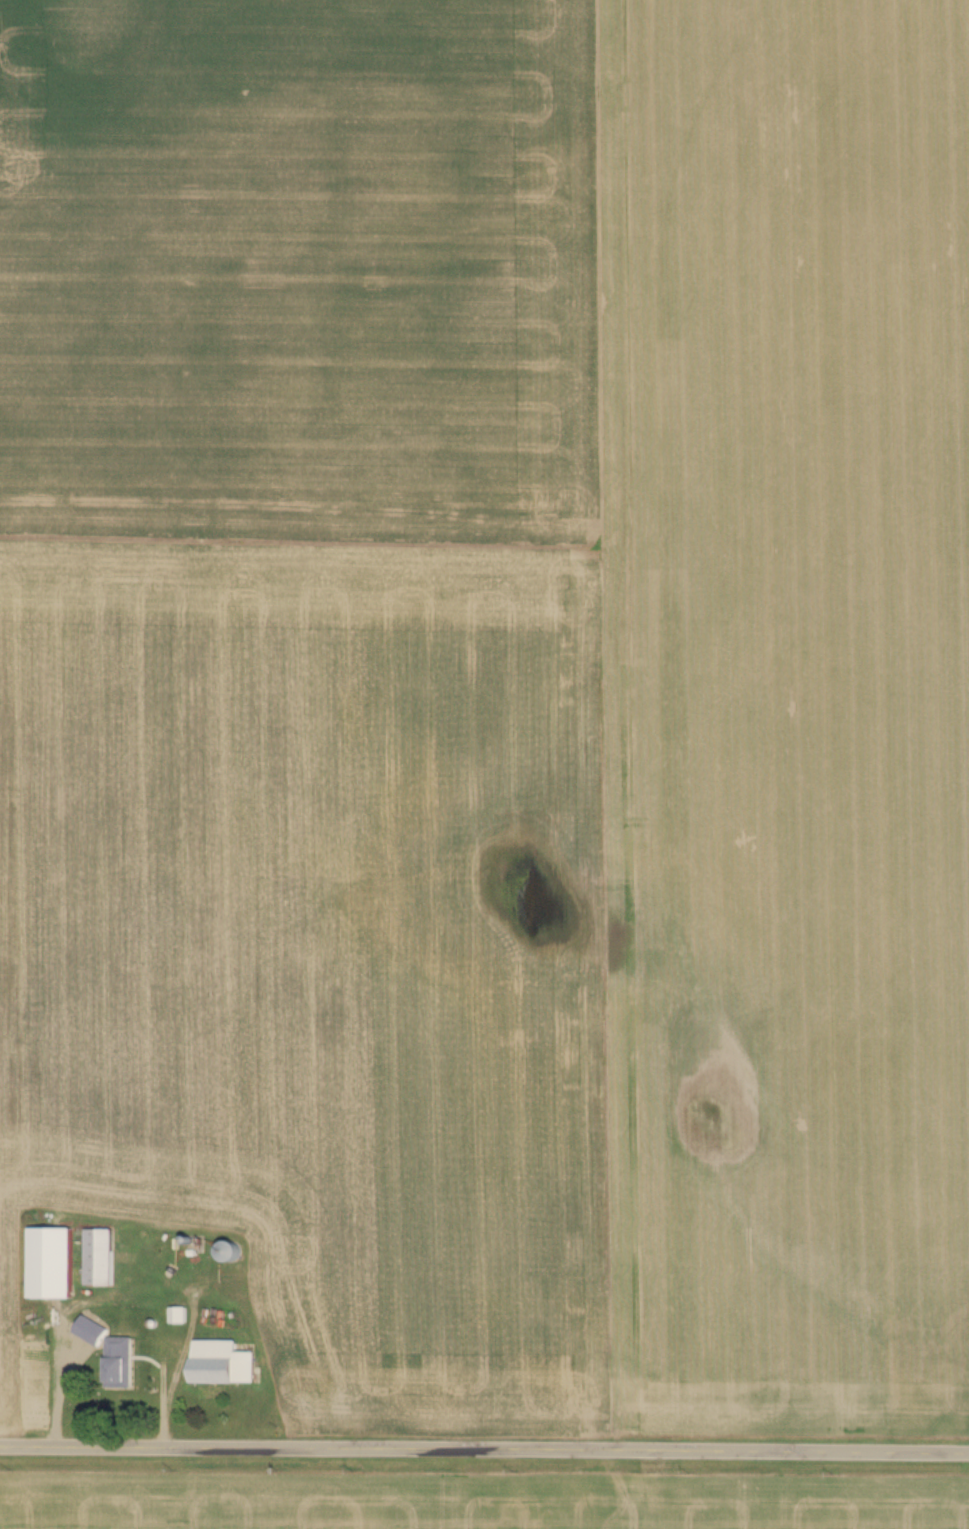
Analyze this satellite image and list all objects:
crop: (497, 695)
building: (226, 1252)
building: (97, 1258)
building: (175, 1316)
building: (118, 1363)
building: (220, 1363)
road: (484, 1446)
crop: (473, 1501)

